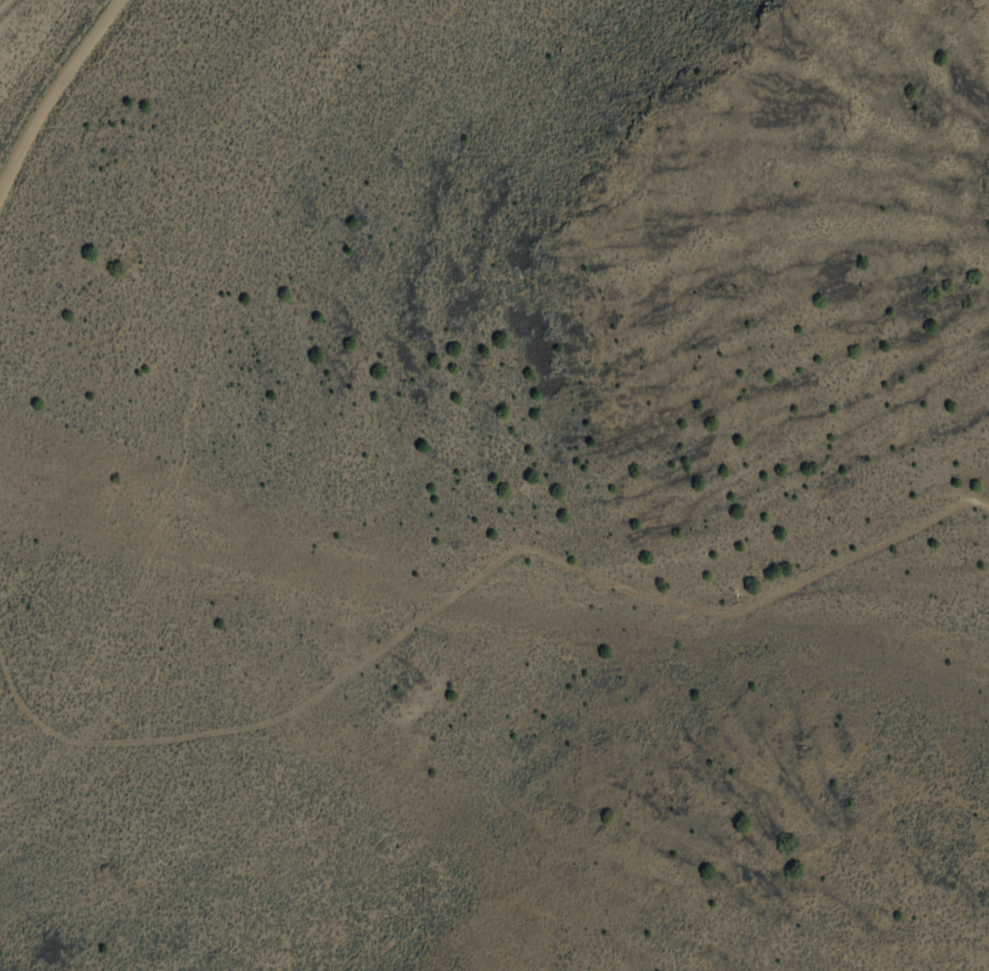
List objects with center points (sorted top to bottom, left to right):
road: (53, 93)

